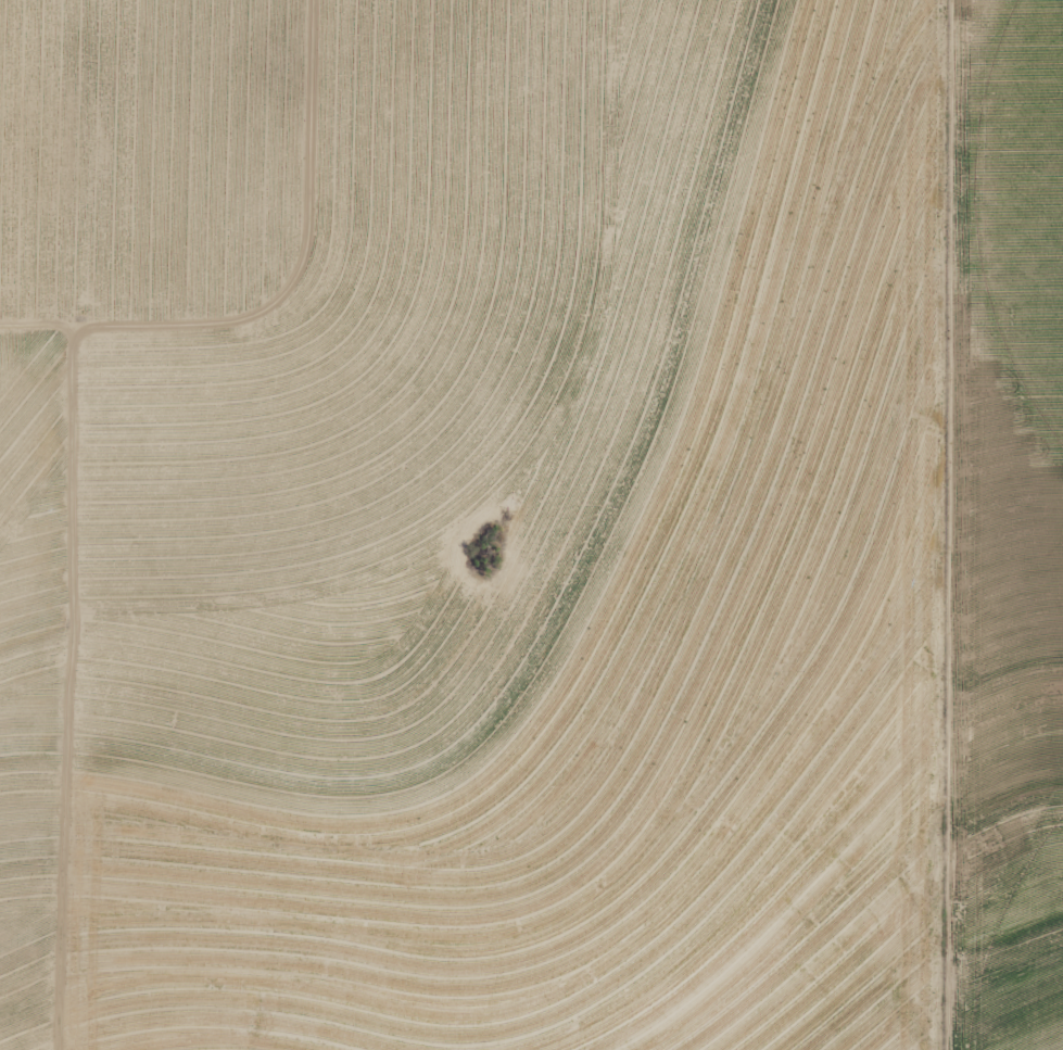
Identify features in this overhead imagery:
road: (67, 429)

